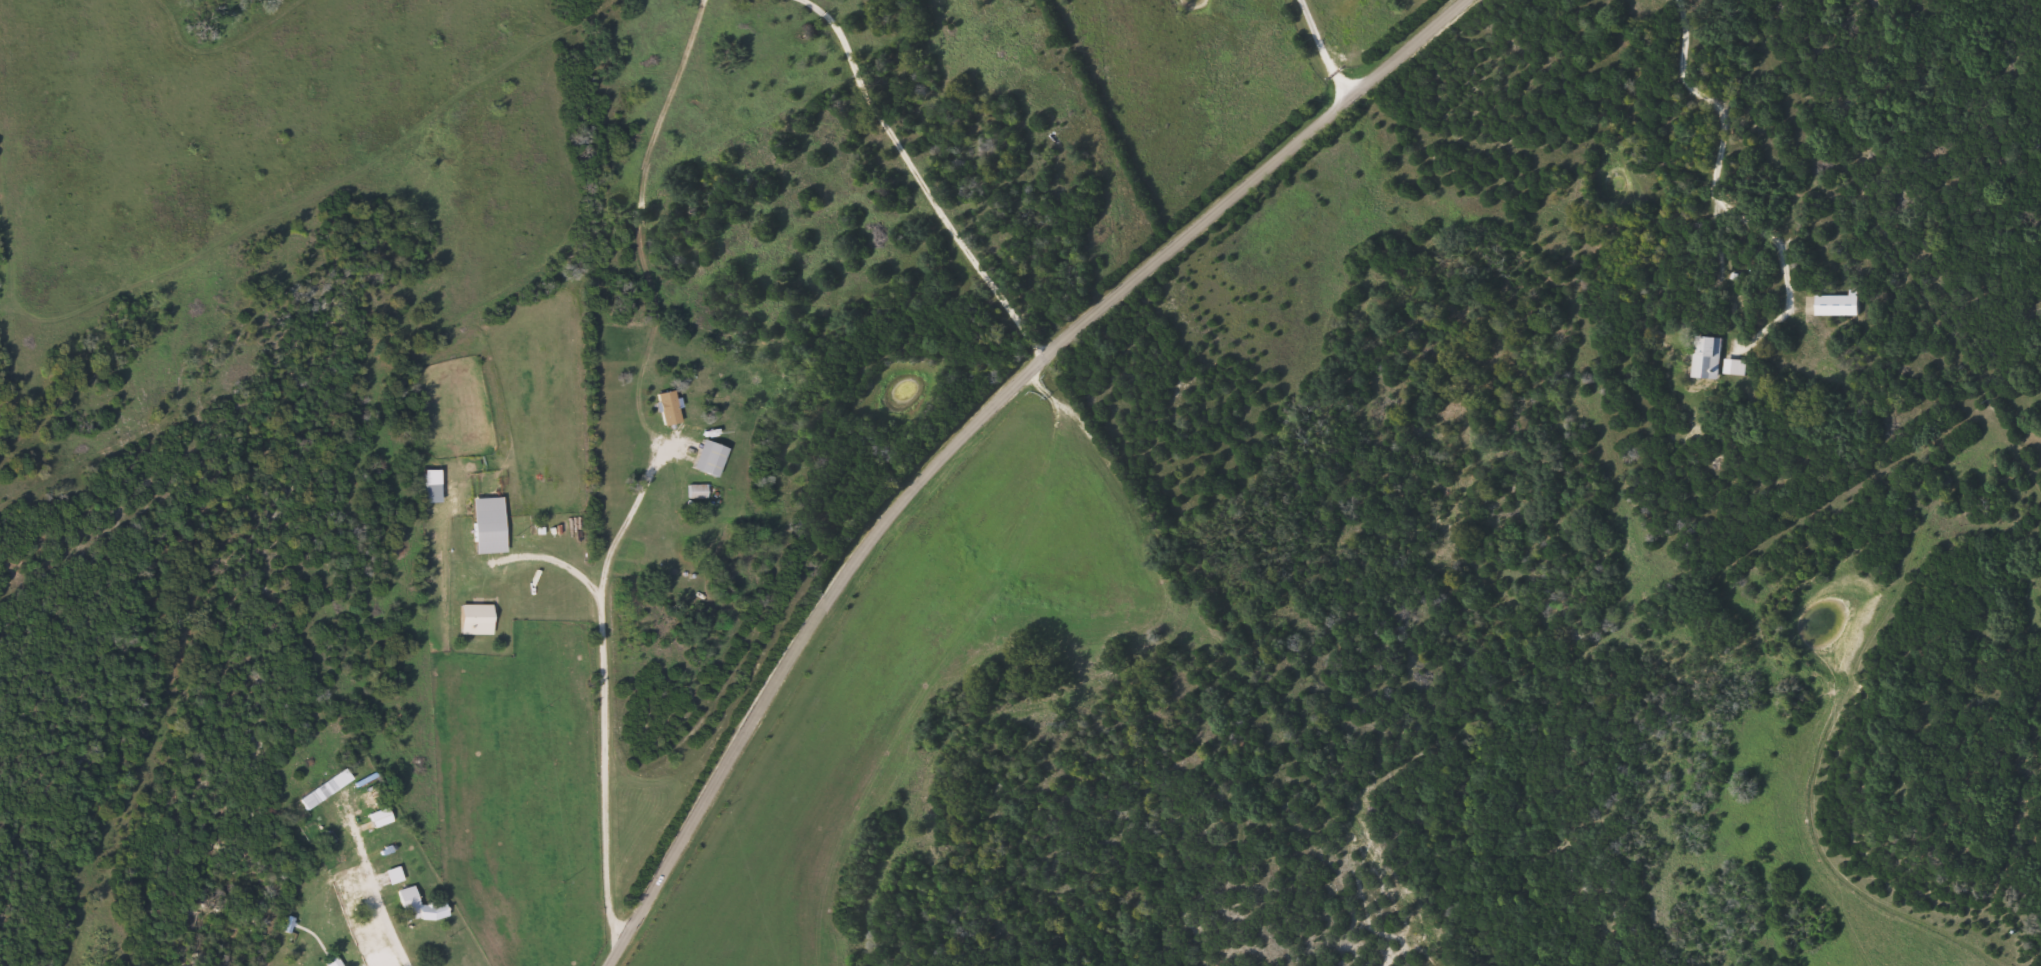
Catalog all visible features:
road: (1324, 51)
road: (1716, 179)
road: (920, 182)
road: (126, 300)
building: (1839, 304)
building: (1708, 358)
building: (1736, 368)
building: (669, 408)
road: (978, 426)
building: (709, 458)
road: (554, 472)
building: (698, 492)
building: (433, 493)
building: (489, 525)
building: (476, 619)
building: (324, 789)
road: (139, 807)
building: (377, 808)
road: (377, 904)
building: (411, 908)

